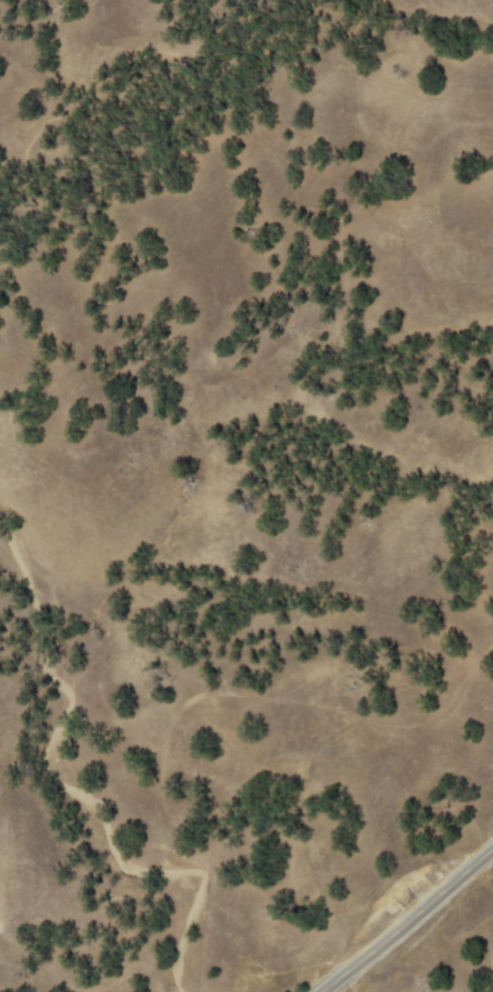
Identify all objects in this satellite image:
road: (406, 919)

